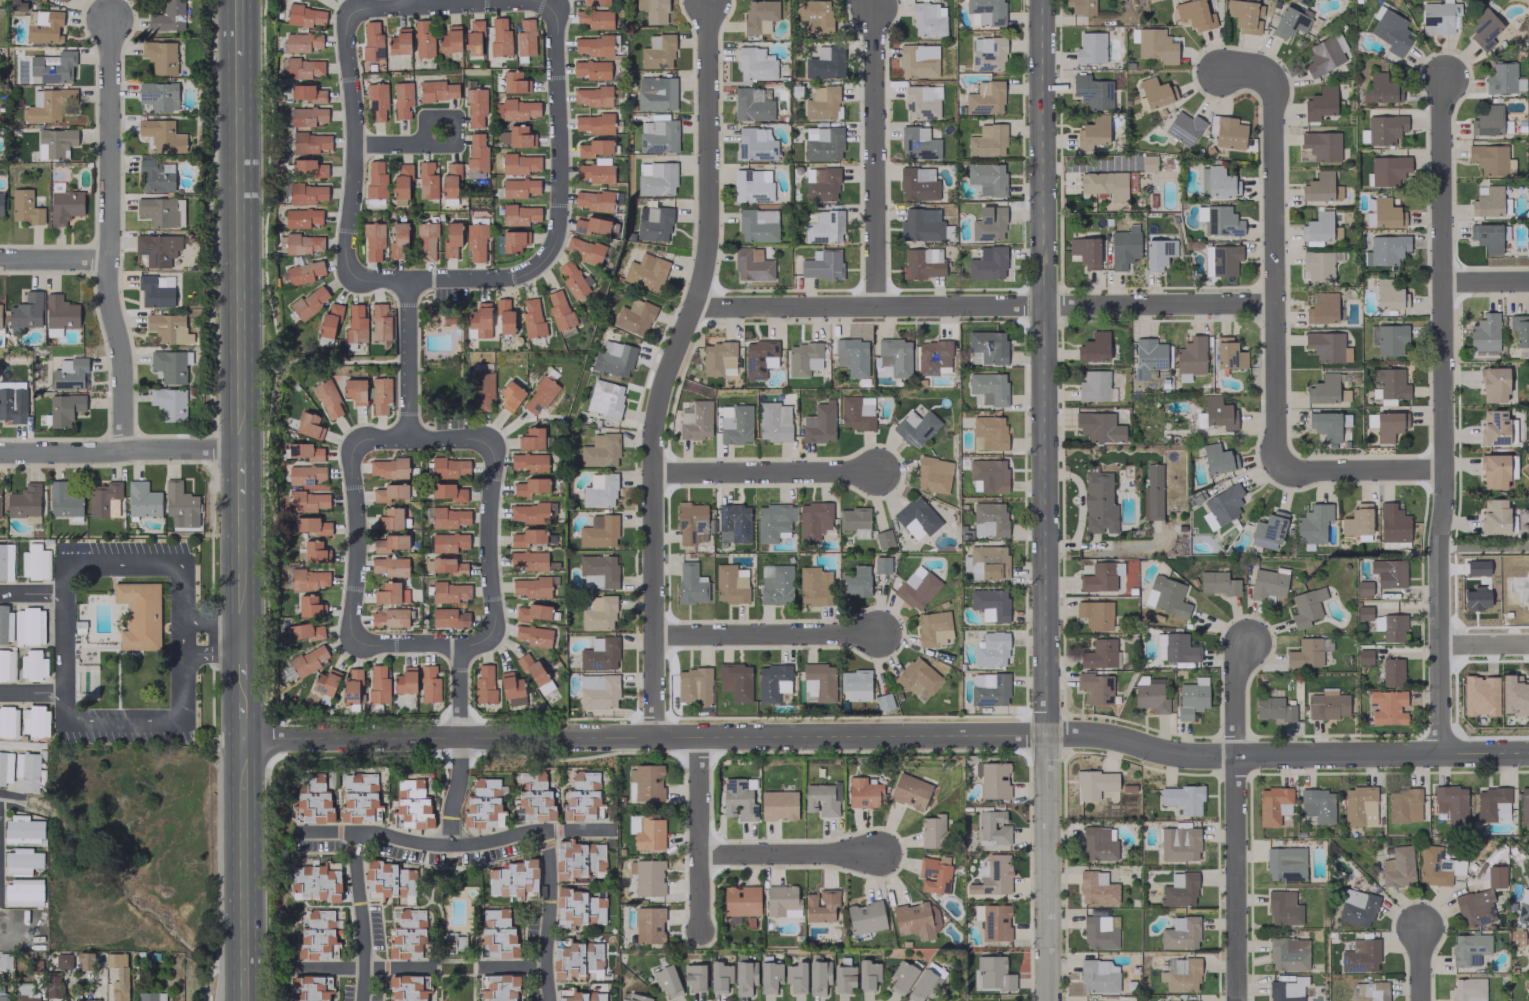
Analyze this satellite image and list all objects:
building: (65, 0)
road: (548, 1)
road: (414, 2)
building: (595, 2)
road: (442, 4)
building: (1081, 6)
building: (653, 10)
building: (985, 12)
building: (1195, 14)
building: (305, 15)
building: (759, 15)
building: (815, 15)
building: (1245, 15)
building: (167, 16)
building: (1439, 17)
building: (595, 18)
building: (928, 19)
building: (1290, 21)
building: (45, 27)
building: (1484, 28)
road: (237, 29)
building: (1390, 30)
building: (474, 37)
building: (499, 37)
building: (423, 38)
building: (525, 38)
building: (450, 39)
building: (372, 40)
building: (301, 41)
building: (398, 42)
building: (593, 45)
building: (1156, 45)
building: (1090, 47)
building: (657, 51)
building: (987, 53)
building: (1325, 54)
building: (160, 56)
building: (917, 61)
building: (825, 63)
building: (755, 64)
building: (51, 67)
building: (302, 68)
building: (591, 69)
building: (1503, 78)
building: (515, 82)
building: (1381, 89)
building: (437, 90)
building: (1092, 91)
building: (1156, 92)
building: (306, 93)
building: (656, 93)
building: (159, 95)
building: (592, 96)
building: (985, 98)
building: (402, 99)
building: (376, 102)
building: (922, 102)
building: (822, 103)
building: (1320, 103)
building: (753, 104)
building: (48, 105)
building: (475, 107)
building: (515, 109)
building: (307, 116)
building: (1487, 121)
building: (594, 123)
building: (1183, 128)
building: (1385, 128)
building: (1092, 132)
building: (1229, 133)
building: (162, 135)
building: (516, 136)
road: (559, 136)
building: (658, 136)
building: (987, 141)
building: (55, 142)
building: (310, 142)
building: (755, 143)
building: (822, 143)
building: (918, 143)
road: (353, 144)
road: (453, 145)
building: (1321, 145)
building: (594, 148)
building: (476, 152)
road: (874, 155)
building: (1491, 159)
building: (520, 163)
building: (1148, 163)
building: (308, 168)
building: (1389, 169)
building: (596, 170)
building: (155, 174)
building: (656, 178)
building: (987, 178)
building: (375, 179)
building: (426, 180)
building: (450, 180)
building: (1217, 182)
building: (918, 183)
building: (821, 184)
building: (1106, 184)
building: (401, 185)
building: (752, 185)
building: (1318, 186)
building: (520, 188)
building: (306, 193)
building: (593, 200)
building: (1487, 201)
building: (0, 203)
building: (65, 206)
building: (25, 207)
building: (161, 211)
building: (1200, 212)
building: (1387, 213)
building: (520, 214)
building: (1369, 214)
building: (302, 217)
building: (1221, 221)
building: (653, 223)
building: (988, 223)
building: (757, 224)
building: (591, 225)
building: (921, 225)
building: (824, 227)
building: (1317, 228)
road: (110, 234)
building: (1488, 236)
building: (451, 239)
building: (397, 240)
building: (513, 240)
building: (426, 241)
building: (475, 241)
building: (373, 242)
building: (299, 243)
building: (1124, 246)
road: (1274, 247)
building: (157, 249)
building: (583, 249)
building: (1385, 249)
building: (1085, 251)
road: (239, 253)
building: (1158, 253)
road: (55, 259)
building: (1221, 259)
building: (922, 262)
building: (987, 263)
building: (752, 264)
building: (822, 264)
building: (1317, 266)
building: (304, 272)
building: (645, 272)
road: (446, 279)
building: (572, 280)
road: (1486, 283)
building: (154, 292)
building: (1390, 294)
building: (310, 301)
road: (983, 304)
building: (1321, 308)
building: (559, 309)
building: (26, 312)
building: (60, 312)
building: (0, 314)
building: (634, 316)
building: (504, 317)
building: (532, 318)
building: (480, 319)
building: (379, 321)
building: (329, 323)
building: (356, 324)
building: (168, 328)
building: (1519, 329)
building: (1484, 336)
building: (1391, 339)
building: (1327, 346)
building: (986, 347)
building: (1094, 347)
building: (1229, 353)
building: (1191, 355)
building: (852, 356)
building: (895, 356)
building: (759, 357)
building: (933, 357)
building: (1147, 357)
building: (613, 358)
building: (718, 358)
building: (803, 358)
road: (410, 360)
building: (170, 365)
road: (670, 367)
building: (69, 374)
building: (1391, 383)
building: (1493, 384)
building: (988, 388)
building: (1322, 389)
building: (355, 390)
building: (483, 391)
building: (510, 395)
building: (380, 396)
building: (540, 396)
building: (605, 398)
building: (327, 399)
building: (12, 401)
building: (169, 403)
building: (64, 409)
building: (856, 412)
building: (1218, 412)
road: (1445, 417)
building: (696, 420)
building: (774, 421)
building: (819, 422)
building: (735, 424)
building: (309, 425)
building: (1325, 425)
building: (1389, 425)
building: (1099, 426)
building: (916, 427)
building: (1496, 427)
building: (988, 432)
building: (531, 438)
road: (423, 439)
road: (120, 449)
building: (600, 450)
building: (304, 451)
building: (1218, 458)
building: (529, 462)
building: (387, 467)
building: (449, 467)
road: (1361, 468)
road: (765, 471)
building: (1494, 471)
building: (305, 474)
building: (933, 474)
building: (989, 474)
building: (530, 486)
building: (599, 490)
building: (1153, 491)
building: (389, 492)
building: (448, 492)
building: (104, 498)
building: (142, 499)
building: (24, 500)
building: (63, 500)
road: (1046, 500)
building: (308, 501)
building: (1100, 503)
building: (180, 504)
building: (1222, 506)
building: (528, 512)
building: (1494, 515)
building: (449, 517)
building: (390, 518)
building: (917, 518)
building: (989, 519)
building: (813, 520)
building: (1357, 520)
building: (773, 521)
building: (854, 521)
building: (691, 523)
building: (733, 523)
building: (1393, 523)
building: (312, 525)
building: (1313, 525)
building: (1268, 530)
building: (599, 531)
road: (242, 535)
building: (527, 537)
road: (487, 538)
building: (883, 538)
building: (448, 542)
building: (390, 543)
road: (356, 545)
road: (1484, 548)
building: (315, 551)
building: (528, 560)
building: (6, 561)
building: (34, 562)
building: (987, 562)
road: (151, 564)
building: (881, 564)
building: (390, 566)
building: (447, 566)
building: (598, 571)
building: (1388, 572)
building: (1101, 576)
building: (308, 578)
building: (855, 581)
building: (691, 583)
building: (1218, 583)
building: (1268, 583)
building: (731, 584)
building: (775, 584)
building: (530, 586)
building: (814, 586)
building: (916, 587)
building: (1363, 589)
building: (450, 592)
road: (32, 593)
building: (390, 593)
building: (1169, 596)
building: (990, 604)
building: (309, 606)
building: (1306, 606)
building: (533, 611)
building: (1363, 612)
building: (598, 613)
building: (1095, 614)
building: (138, 615)
building: (449, 617)
building: (390, 618)
road: (212, 622)
building: (5, 623)
building: (29, 625)
building: (1390, 627)
building: (933, 628)
building: (305, 631)
building: (534, 635)
road: (767, 636)
road: (244, 638)
road: (1484, 641)
road: (65, 643)
road: (426, 644)
building: (1159, 646)
building: (1179, 648)
building: (991, 650)
building: (1308, 652)
road: (212, 654)
building: (599, 654)
building: (1099, 654)
building: (1364, 656)
building: (307, 660)
building: (7, 664)
building: (32, 665)
building: (532, 669)
building: (1392, 671)
road: (244, 675)
building: (918, 677)
building: (405, 680)
building: (735, 680)
building: (325, 682)
building: (378, 683)
building: (429, 683)
building: (483, 683)
building: (773, 683)
building: (855, 684)
building: (693, 685)
building: (352, 686)
building: (1096, 687)
building: (512, 689)
building: (989, 689)
building: (598, 691)
road: (461, 692)
road: (32, 693)
building: (1150, 697)
building: (1191, 699)
building: (883, 701)
building: (1327, 704)
building: (1388, 707)
building: (1273, 708)
road: (244, 717)
building: (34, 720)
building: (8, 721)
road: (173, 723)
road: (887, 734)
building: (5, 767)
building: (27, 771)
building: (993, 779)
building: (646, 781)
building: (1094, 783)
road: (456, 791)
building: (910, 791)
building: (863, 793)
building: (533, 796)
building: (359, 797)
building: (583, 797)
building: (820, 799)
building: (1182, 799)
building: (314, 800)
building: (738, 800)
road: (19, 803)
building: (412, 803)
building: (1451, 803)
building: (1524, 803)
building: (484, 804)
building: (1492, 804)
building: (778, 805)
building: (1273, 805)
building: (1359, 805)
building: (1404, 805)
building: (1316, 806)
road: (1238, 819)
building: (993, 827)
building: (23, 829)
building: (933, 831)
building: (649, 833)
road: (699, 833)
building: (1099, 843)
building: (1180, 843)
road: (456, 847)
road: (789, 855)
building: (578, 859)
building: (21, 861)
building: (1285, 863)
building: (1398, 866)
building: (1437, 866)
road: (244, 869)
building: (934, 874)
building: (993, 875)
building: (648, 877)
building: (513, 878)
building: (314, 879)
building: (389, 881)
building: (1096, 888)
building: (1180, 889)
building: (22, 892)
building: (741, 900)
building: (782, 900)
building: (820, 905)
building: (1523, 906)
building: (1356, 907)
building: (1283, 908)
building: (1474, 908)
road: (549, 916)
road: (362, 917)
building: (865, 917)
building: (915, 920)
building: (995, 922)
building: (649, 925)
building: (1099, 932)
building: (1180, 933)
building: (406, 934)
building: (497, 934)
building: (316, 935)
building: (1469, 948)
building: (1527, 950)
building: (1288, 953)
building: (1360, 955)
building: (577, 958)
building: (5, 960)
building: (63, 960)
building: (84, 961)
road: (1419, 963)
road: (365, 968)
road: (514, 968)
building: (935, 969)
building: (994, 973)
building: (868, 974)
building: (1180, 974)
building: (744, 975)
building: (118, 976)
building: (719, 976)
building: (769, 976)
building: (796, 976)
building: (818, 976)
building: (1098, 976)
building: (694, 977)
building: (901, 977)
building: (843, 978)
building: (667, 980)
building: (52, 985)
building: (923, 985)
road: (108, 986)
building: (310, 987)
building: (407, 987)
building: (500, 988)
building: (1287, 989)
building: (1467, 989)
building: (1369, 991)
building: (2, 994)
building: (28, 995)
building: (151, 996)
building: (583, 996)
building: (637, 997)
building: (86, 999)

